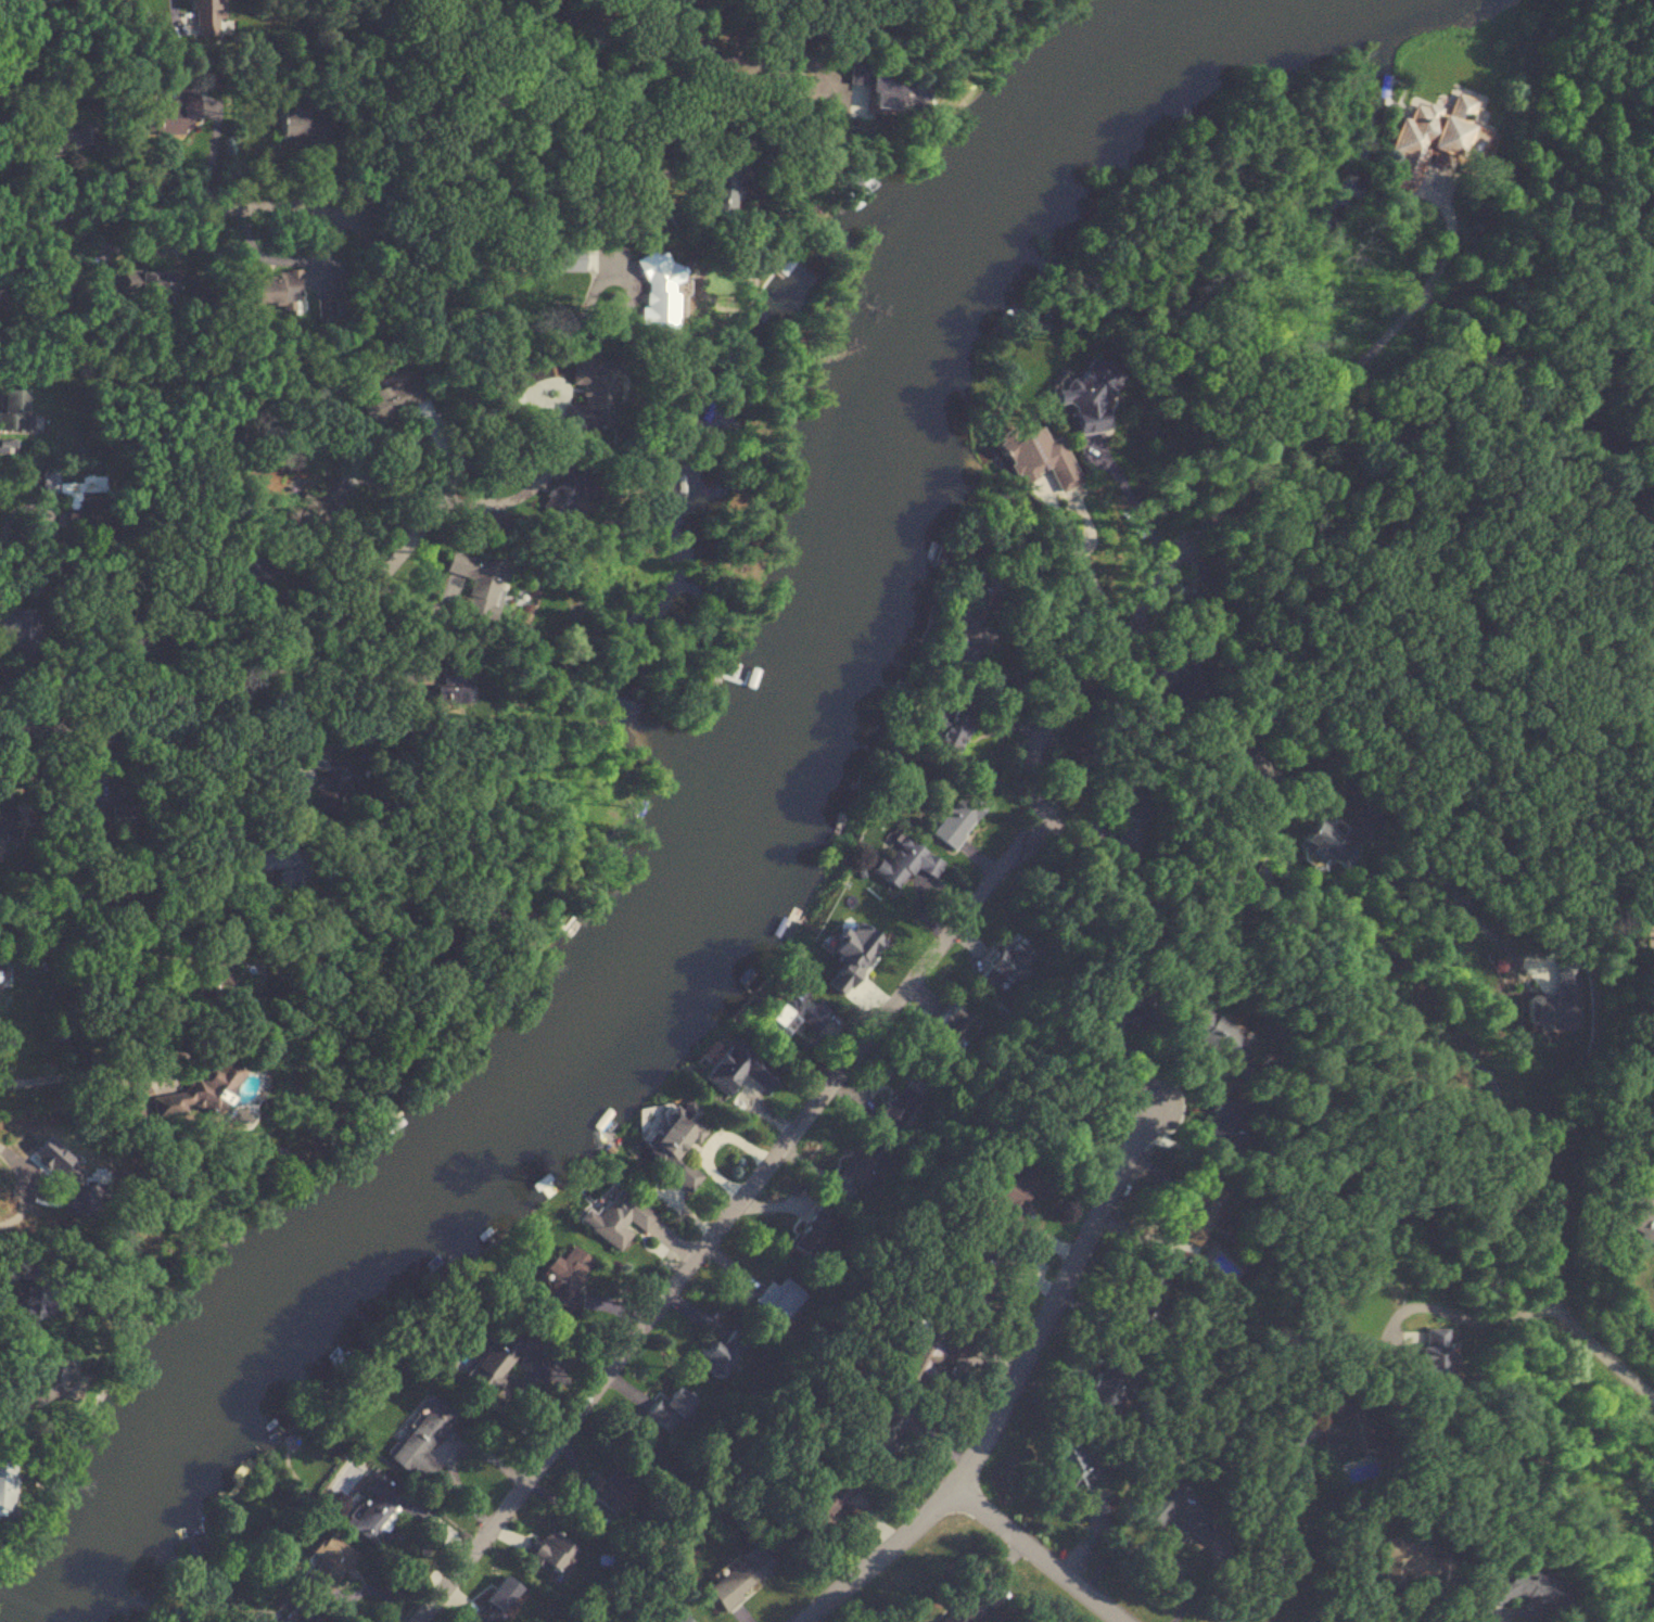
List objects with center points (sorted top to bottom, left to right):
road: (173, 11)
building: (204, 15)
road: (547, 64)
building: (871, 86)
building: (167, 117)
building: (302, 128)
building: (69, 136)
building: (1428, 136)
road: (300, 193)
building: (713, 199)
building: (278, 286)
building: (145, 289)
building: (653, 289)
building: (1, 302)
road: (453, 306)
building: (588, 395)
building: (393, 397)
building: (1084, 397)
building: (13, 409)
building: (1035, 457)
building: (559, 489)
building: (321, 498)
road: (1133, 502)
road: (34, 507)
road: (0, 538)
building: (247, 565)
road: (1086, 571)
building: (475, 578)
building: (977, 610)
building: (15, 621)
building: (140, 636)
road: (270, 680)
building: (1181, 686)
building: (444, 693)
building: (949, 731)
road: (1333, 755)
building: (1257, 774)
building: (322, 775)
building: (1122, 809)
building: (112, 814)
building: (957, 818)
building: (2, 823)
river: (731, 839)
building: (1319, 839)
building: (1346, 856)
road: (195, 858)
building: (284, 861)
building: (905, 863)
building: (858, 921)
road: (950, 935)
road: (98, 943)
building: (1006, 963)
building: (214, 974)
building: (1556, 1000)
building: (792, 1012)
building: (1118, 1018)
building: (952, 1024)
building: (1205, 1030)
building: (737, 1068)
road: (78, 1074)
building: (205, 1083)
building: (900, 1107)
building: (1218, 1133)
building: (676, 1144)
building: (858, 1171)
road: (30, 1184)
building: (73, 1200)
building: (1195, 1209)
building: (1640, 1214)
building: (615, 1218)
building: (810, 1234)
building: (994, 1244)
building: (564, 1276)
building: (1143, 1290)
building: (784, 1299)
road: (1535, 1306)
building: (926, 1352)
building: (721, 1353)
building: (1428, 1353)
road: (1017, 1370)
building: (53, 1377)
road: (12, 1400)
building: (669, 1408)
building: (1347, 1430)
building: (880, 1435)
building: (421, 1441)
building: (1077, 1477)
building: (3, 1491)
building: (610, 1492)
building: (824, 1498)
building: (378, 1508)
building: (1183, 1517)
road: (1287, 1542)
building: (550, 1554)
road: (1036, 1556)
building: (327, 1564)
building: (1410, 1567)
building: (739, 1575)
building: (1519, 1589)
building: (495, 1601)
building: (962, 1611)
building: (675, 1618)

